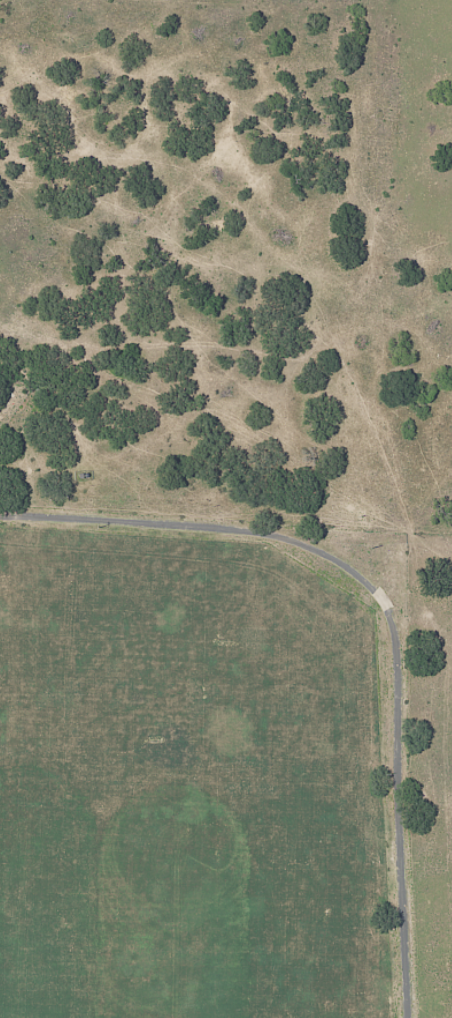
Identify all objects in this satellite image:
power tower: (99, 526)
power tower: (372, 547)
road: (387, 605)

